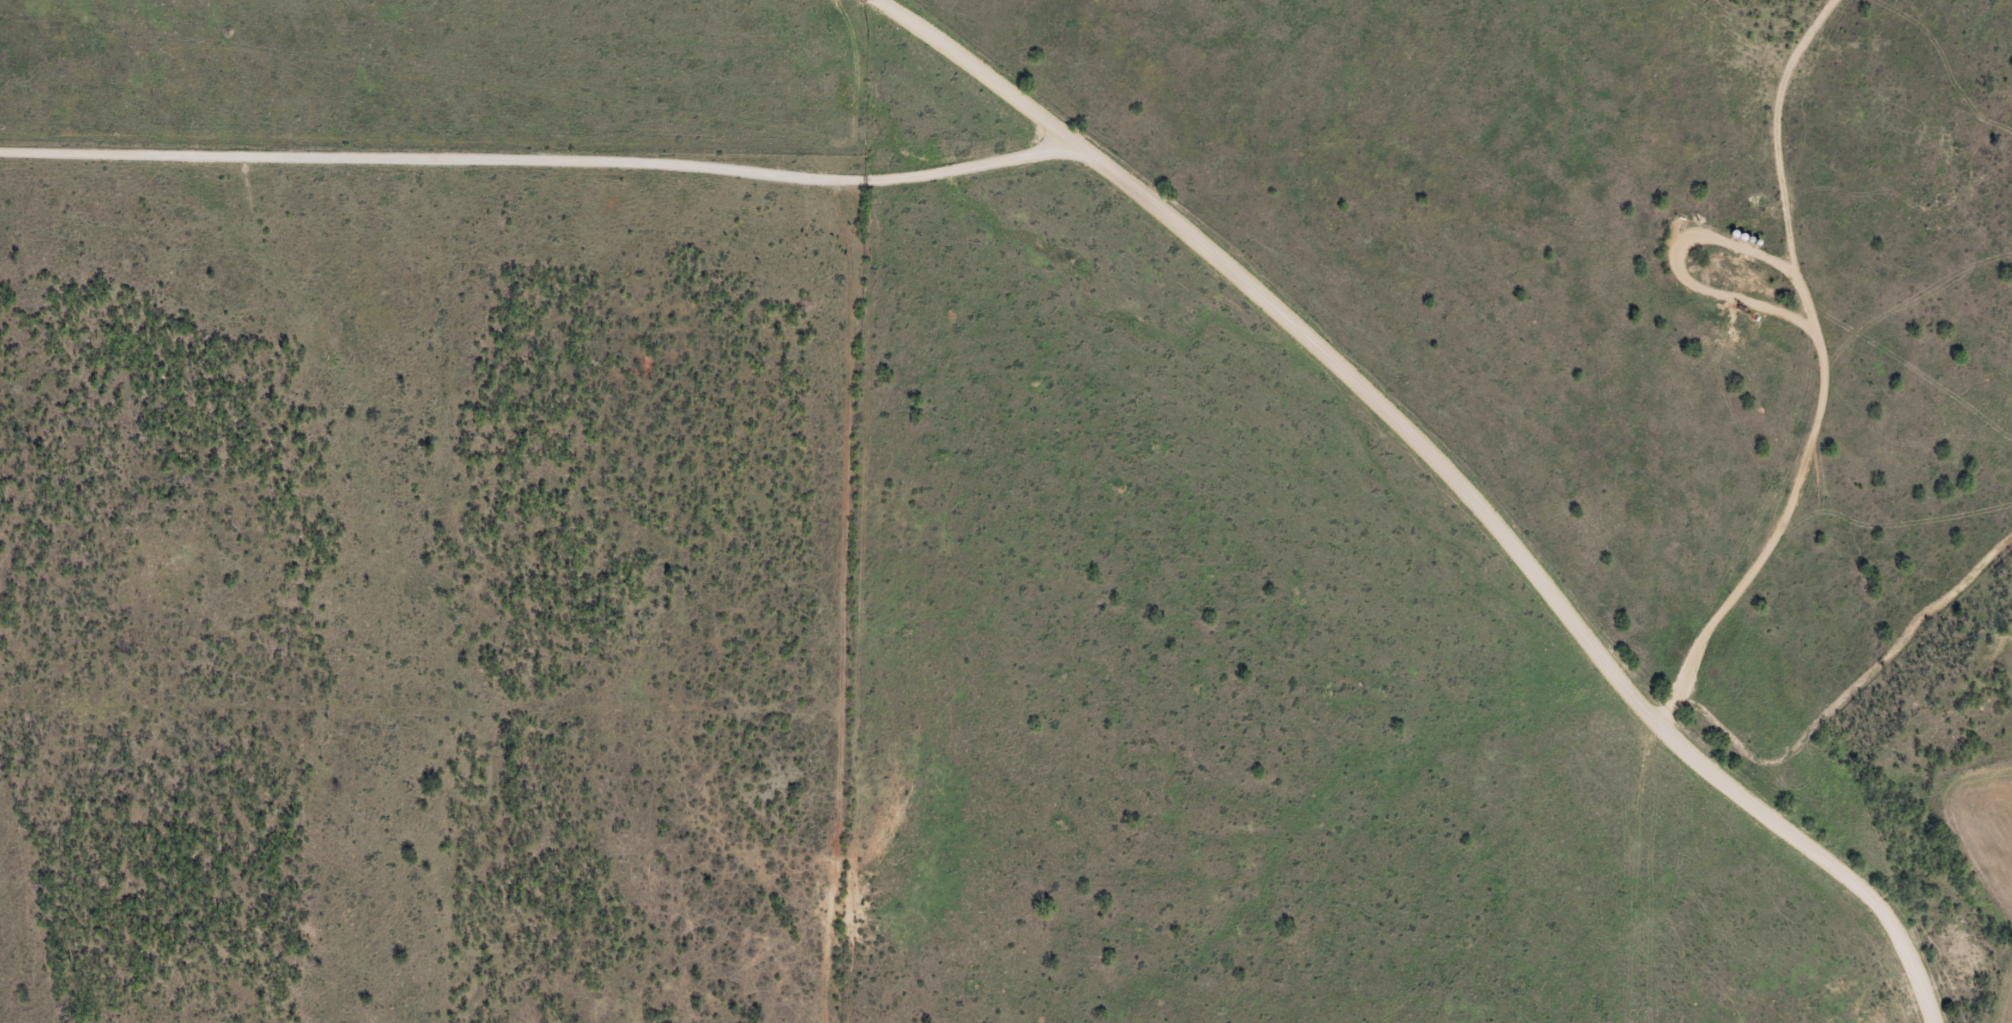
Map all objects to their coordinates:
road: (1257, 317)
road: (1779, 357)
road: (1812, 845)

